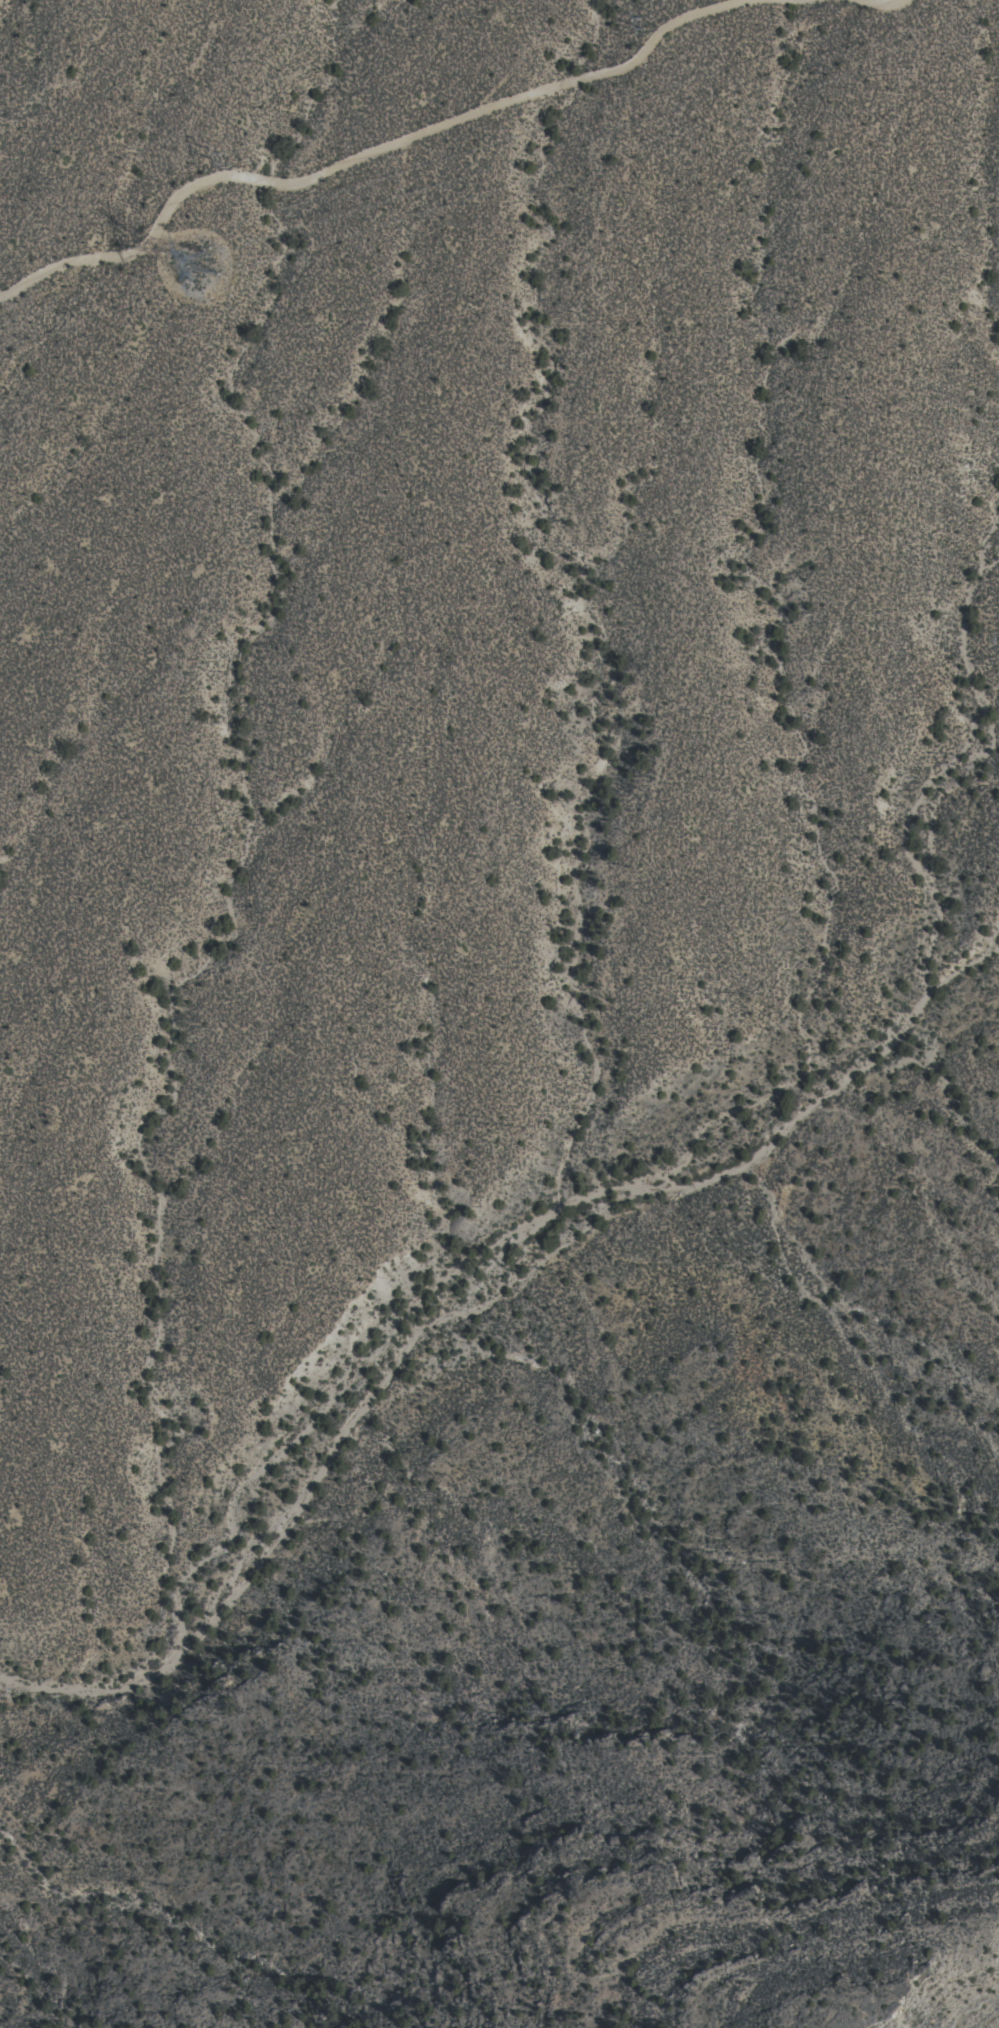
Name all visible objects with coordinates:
road: (881, 2)
power tower: (636, 27)
road: (367, 153)
power tower: (212, 158)
power tower: (197, 264)

